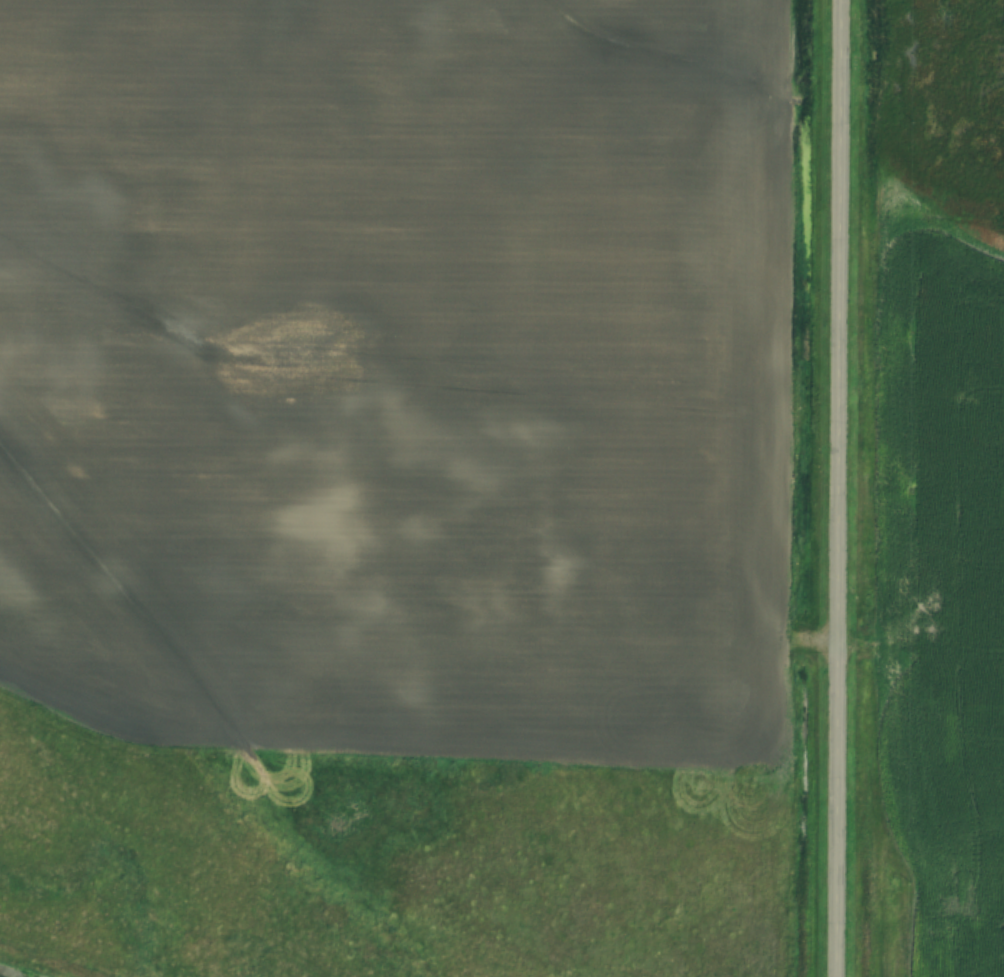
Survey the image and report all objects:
road: (836, 488)
river: (110, 888)

